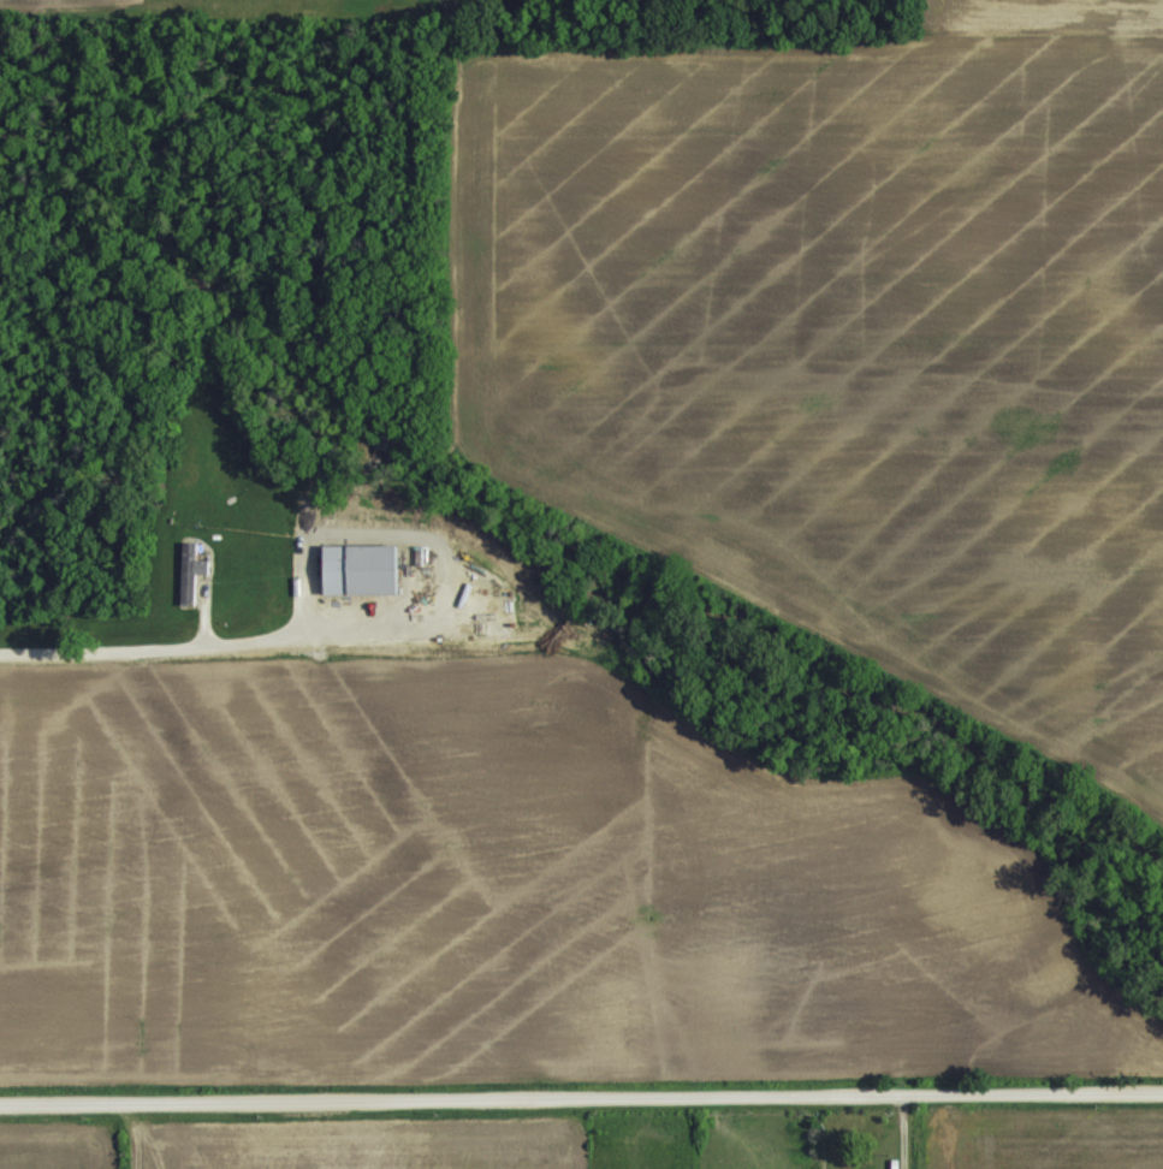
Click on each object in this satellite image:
building: (190, 568)
building: (360, 568)
road: (178, 643)
road: (581, 1092)

